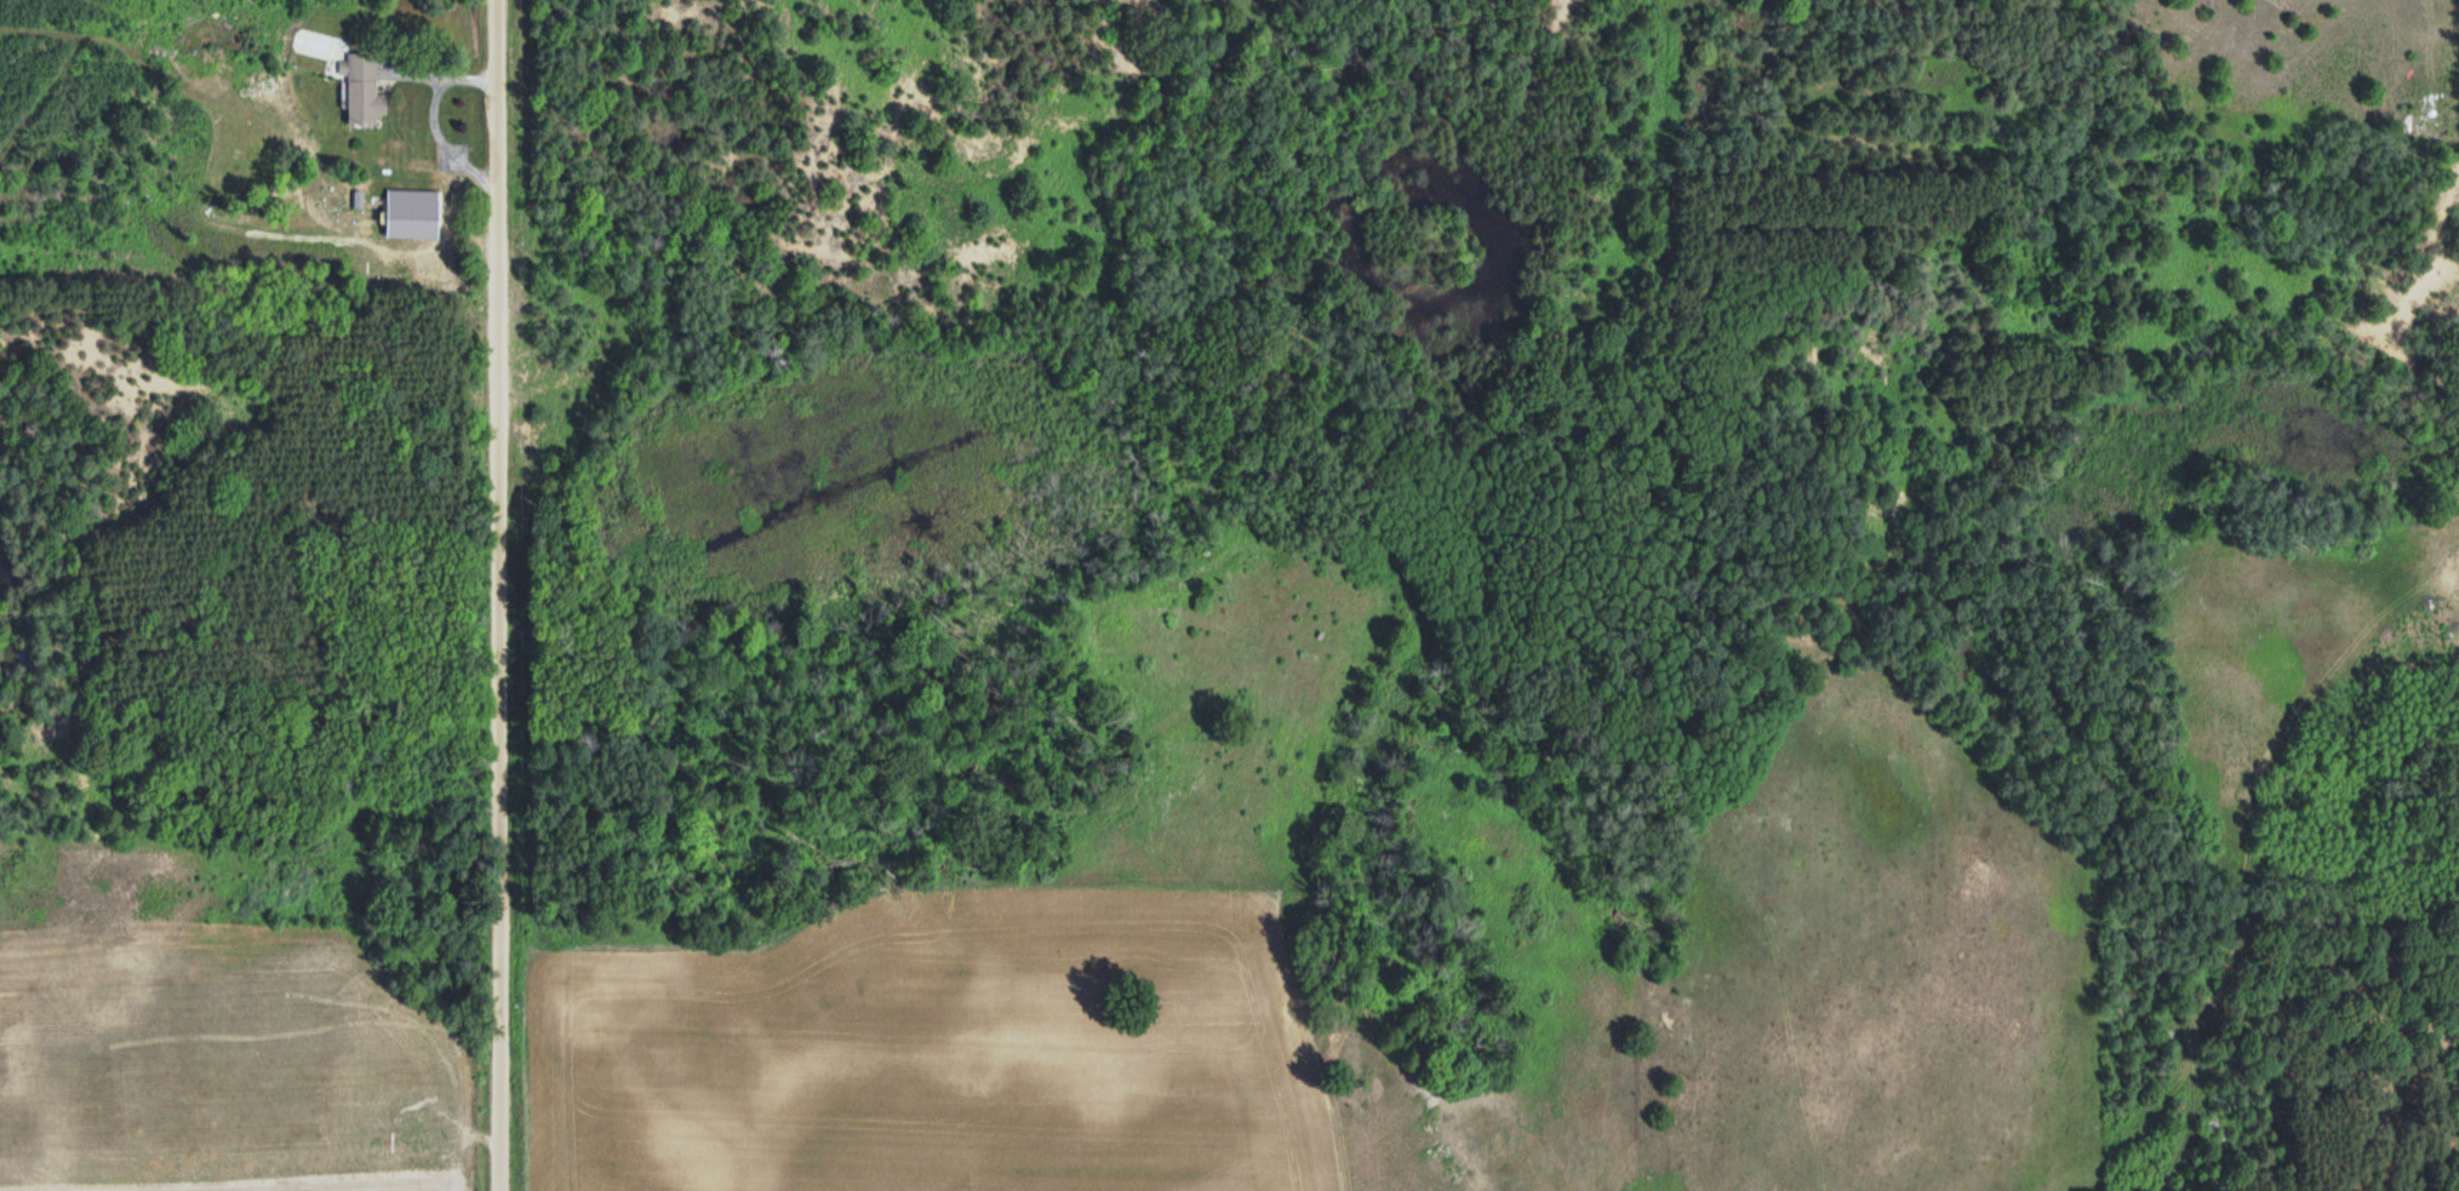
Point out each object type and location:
building: (359, 91)
road: (476, 595)

